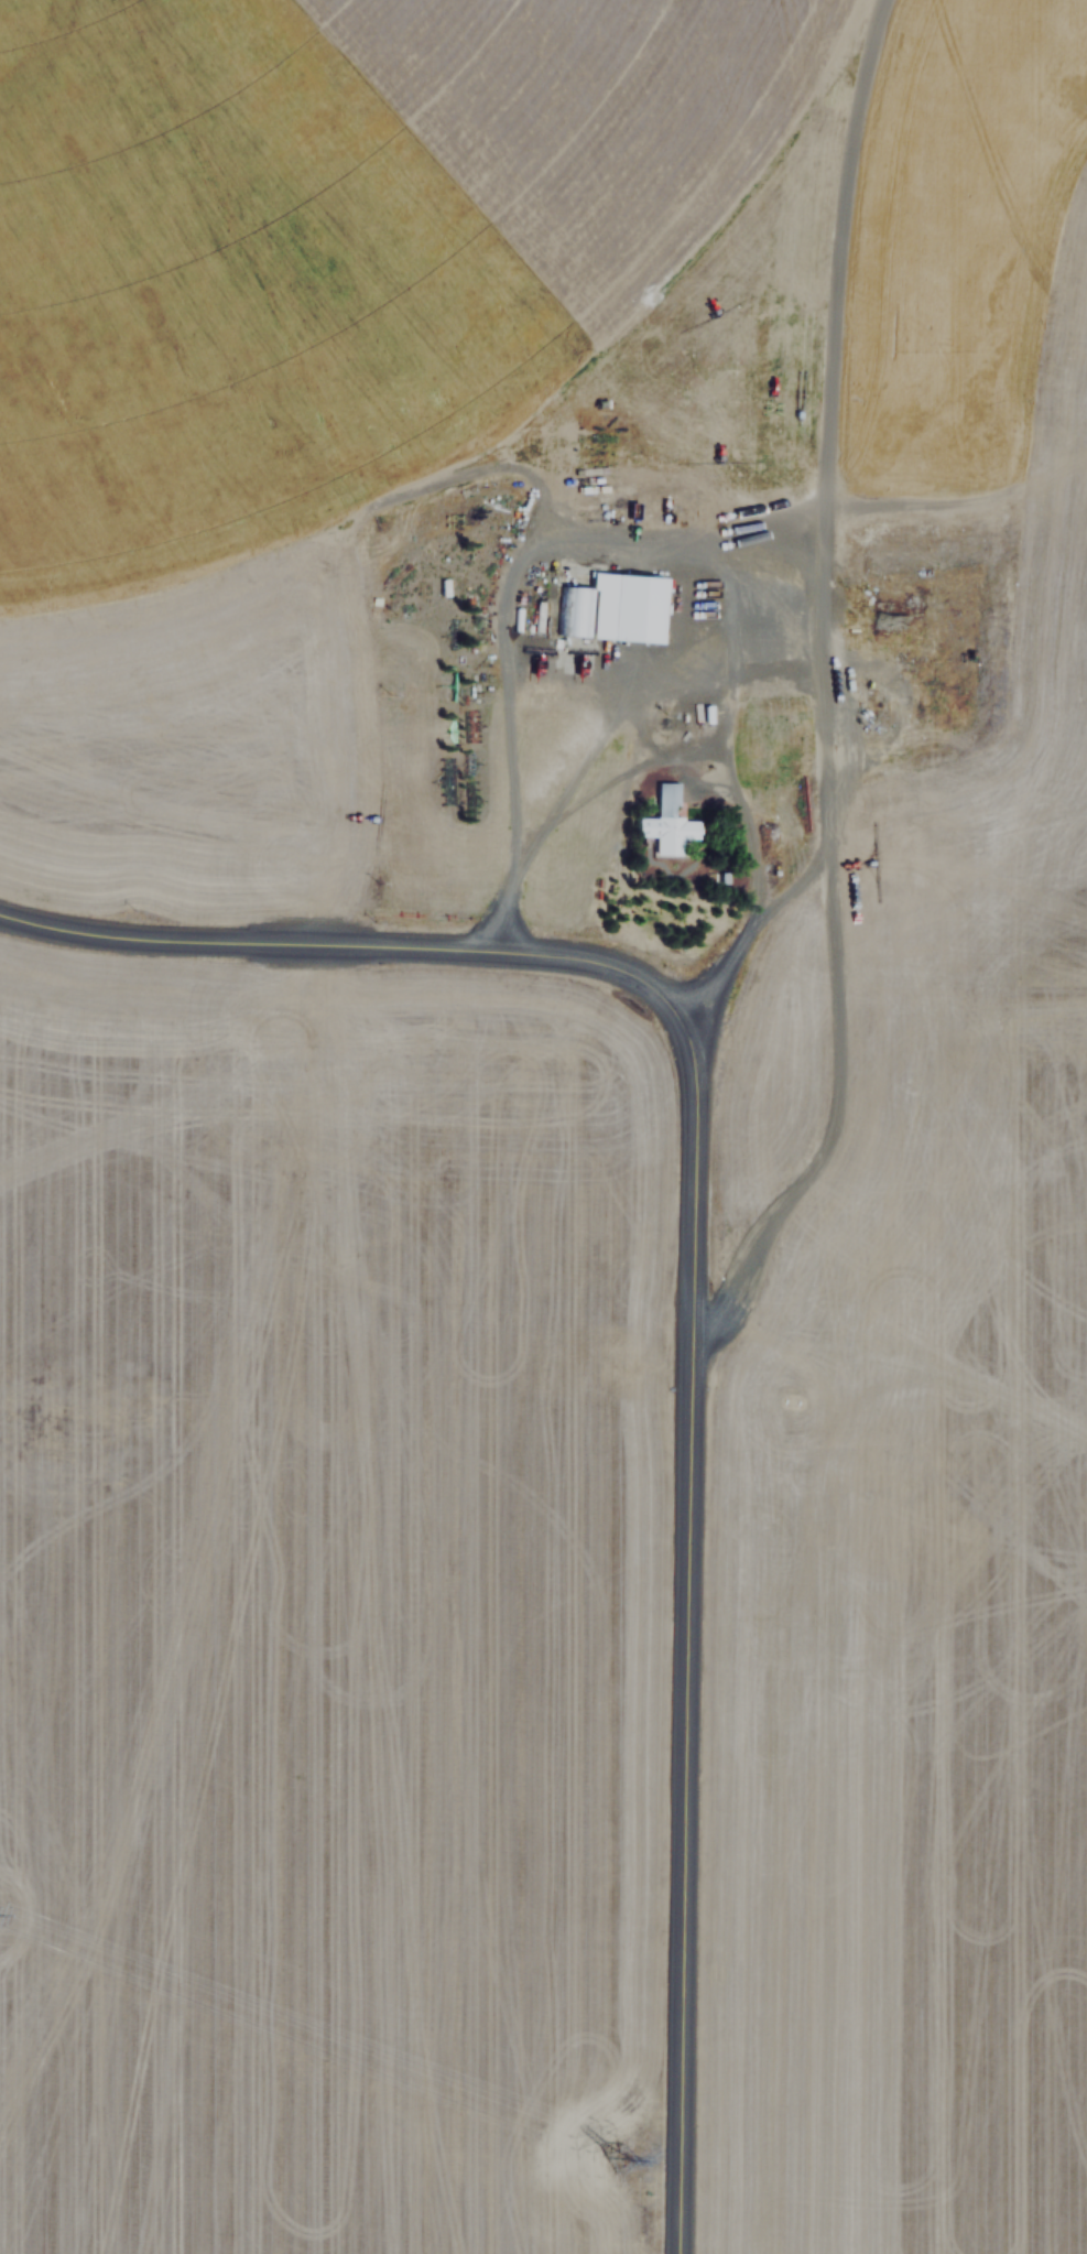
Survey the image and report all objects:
building: (616, 607)
road: (818, 681)
building: (668, 823)
road: (742, 918)
road: (689, 1277)
power tower: (617, 2146)

